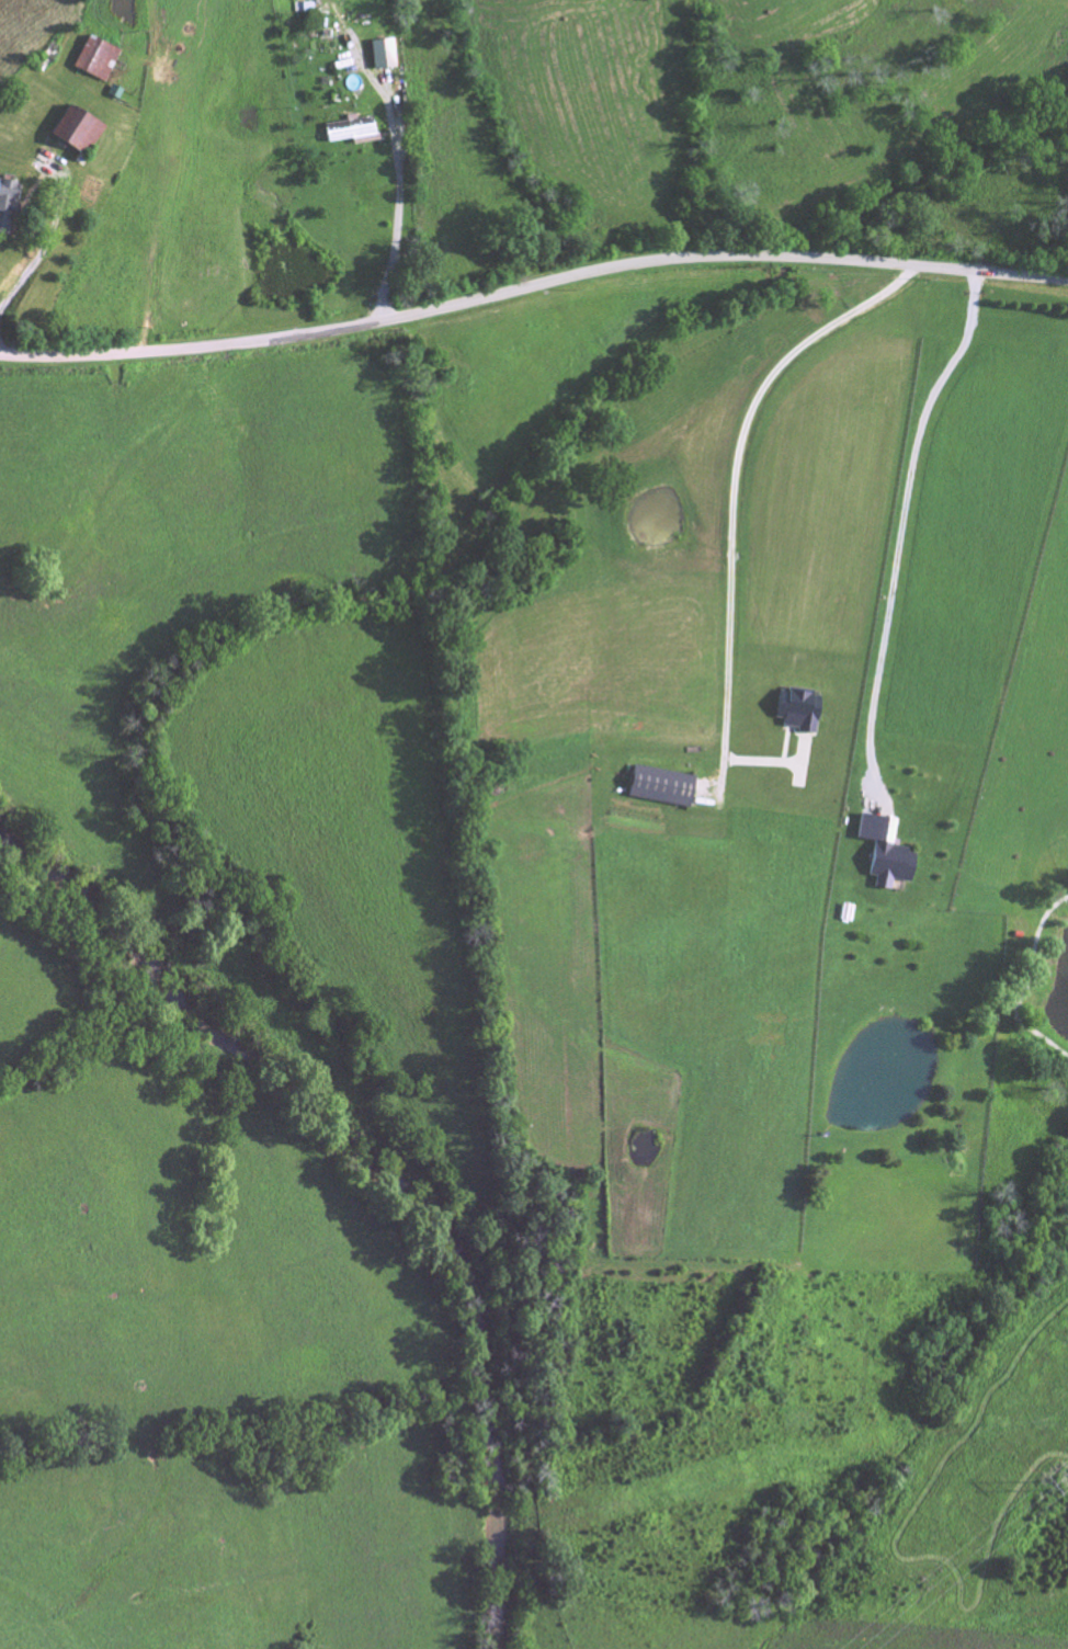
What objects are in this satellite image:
building: (378, 56)
building: (94, 61)
building: (72, 133)
building: (348, 133)
road: (393, 158)
building: (5, 203)
road: (47, 240)
road: (532, 291)
road: (730, 474)
road: (904, 534)
building: (797, 712)
building: (660, 788)
building: (885, 854)
power tower: (1045, 1483)

